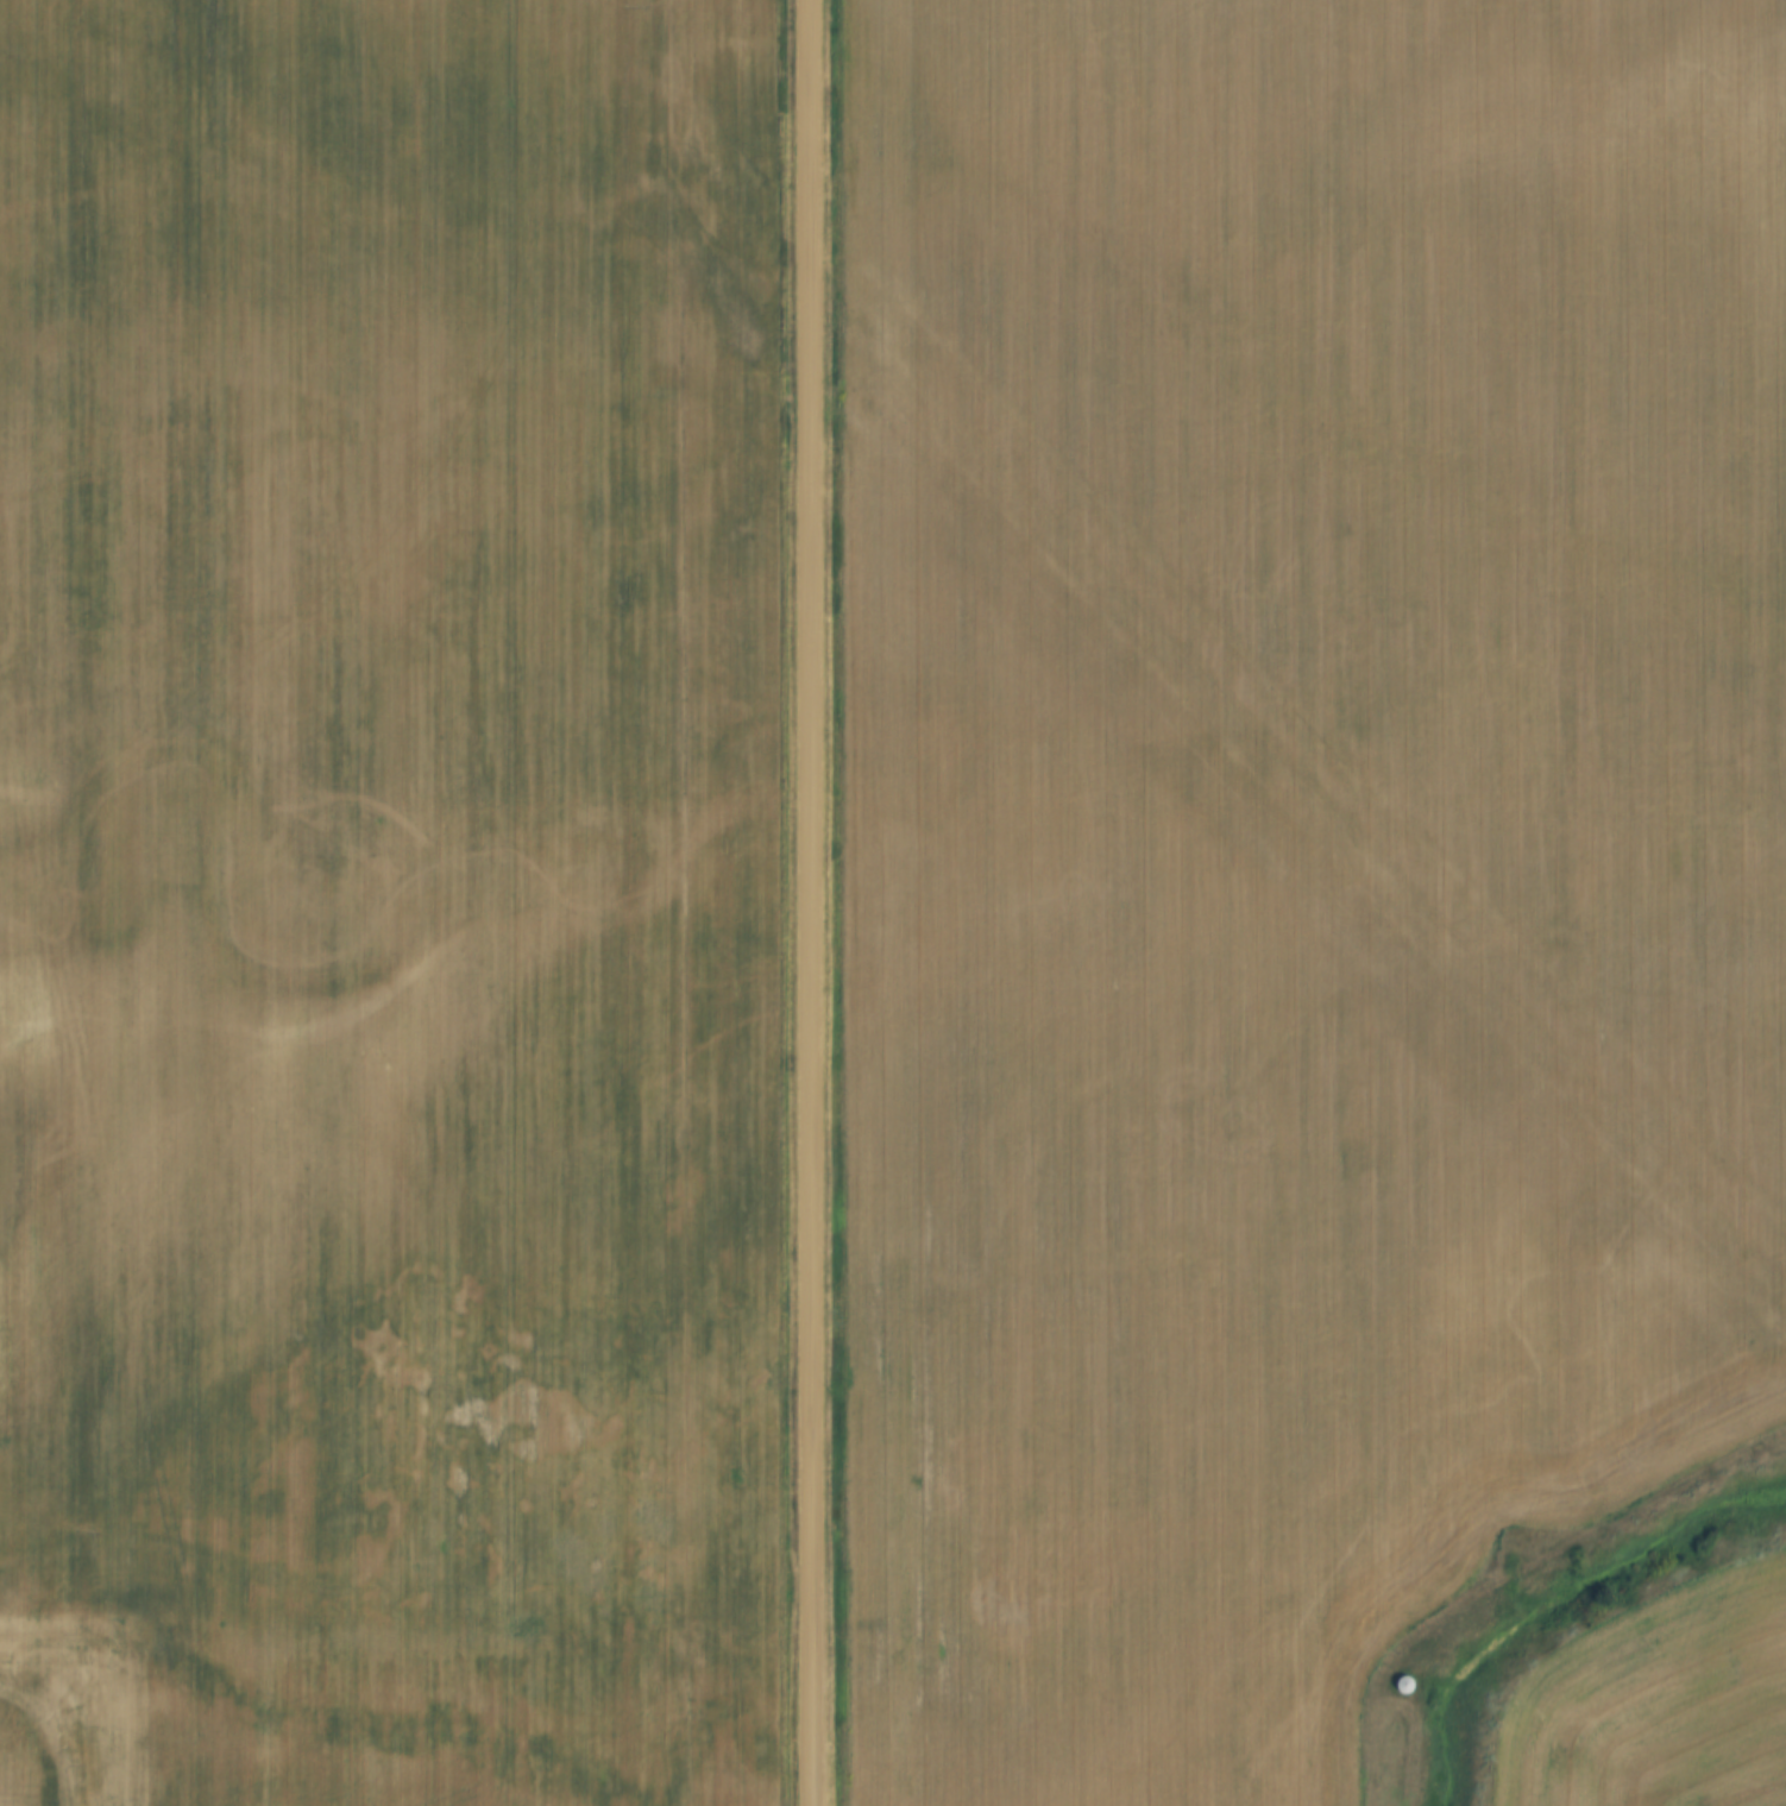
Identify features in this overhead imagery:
road: (816, 902)
road: (1516, 1573)
building: (1400, 1684)

